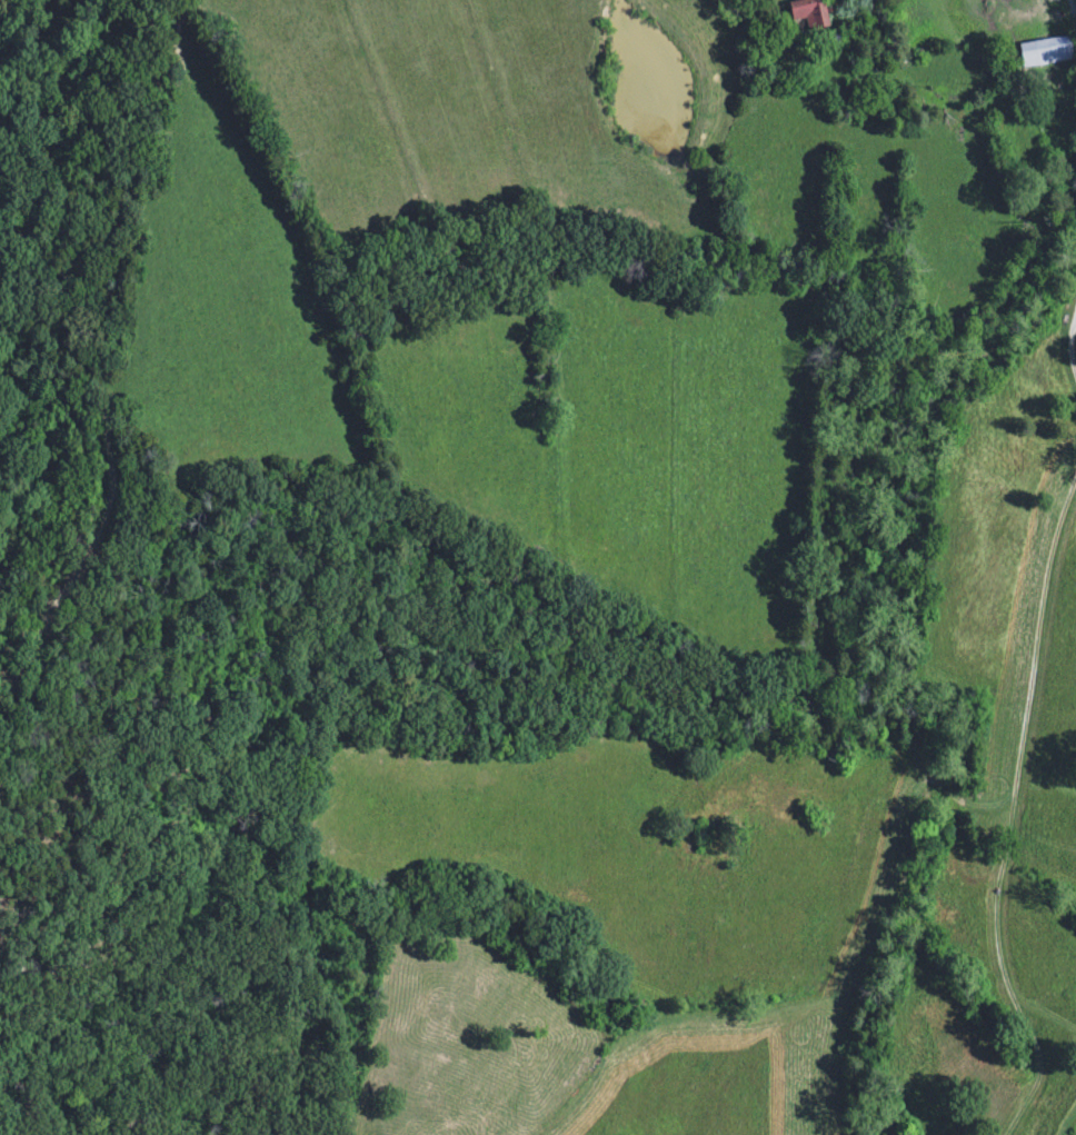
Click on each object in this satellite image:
building: (808, 12)
building: (1044, 52)
road: (1070, 326)

